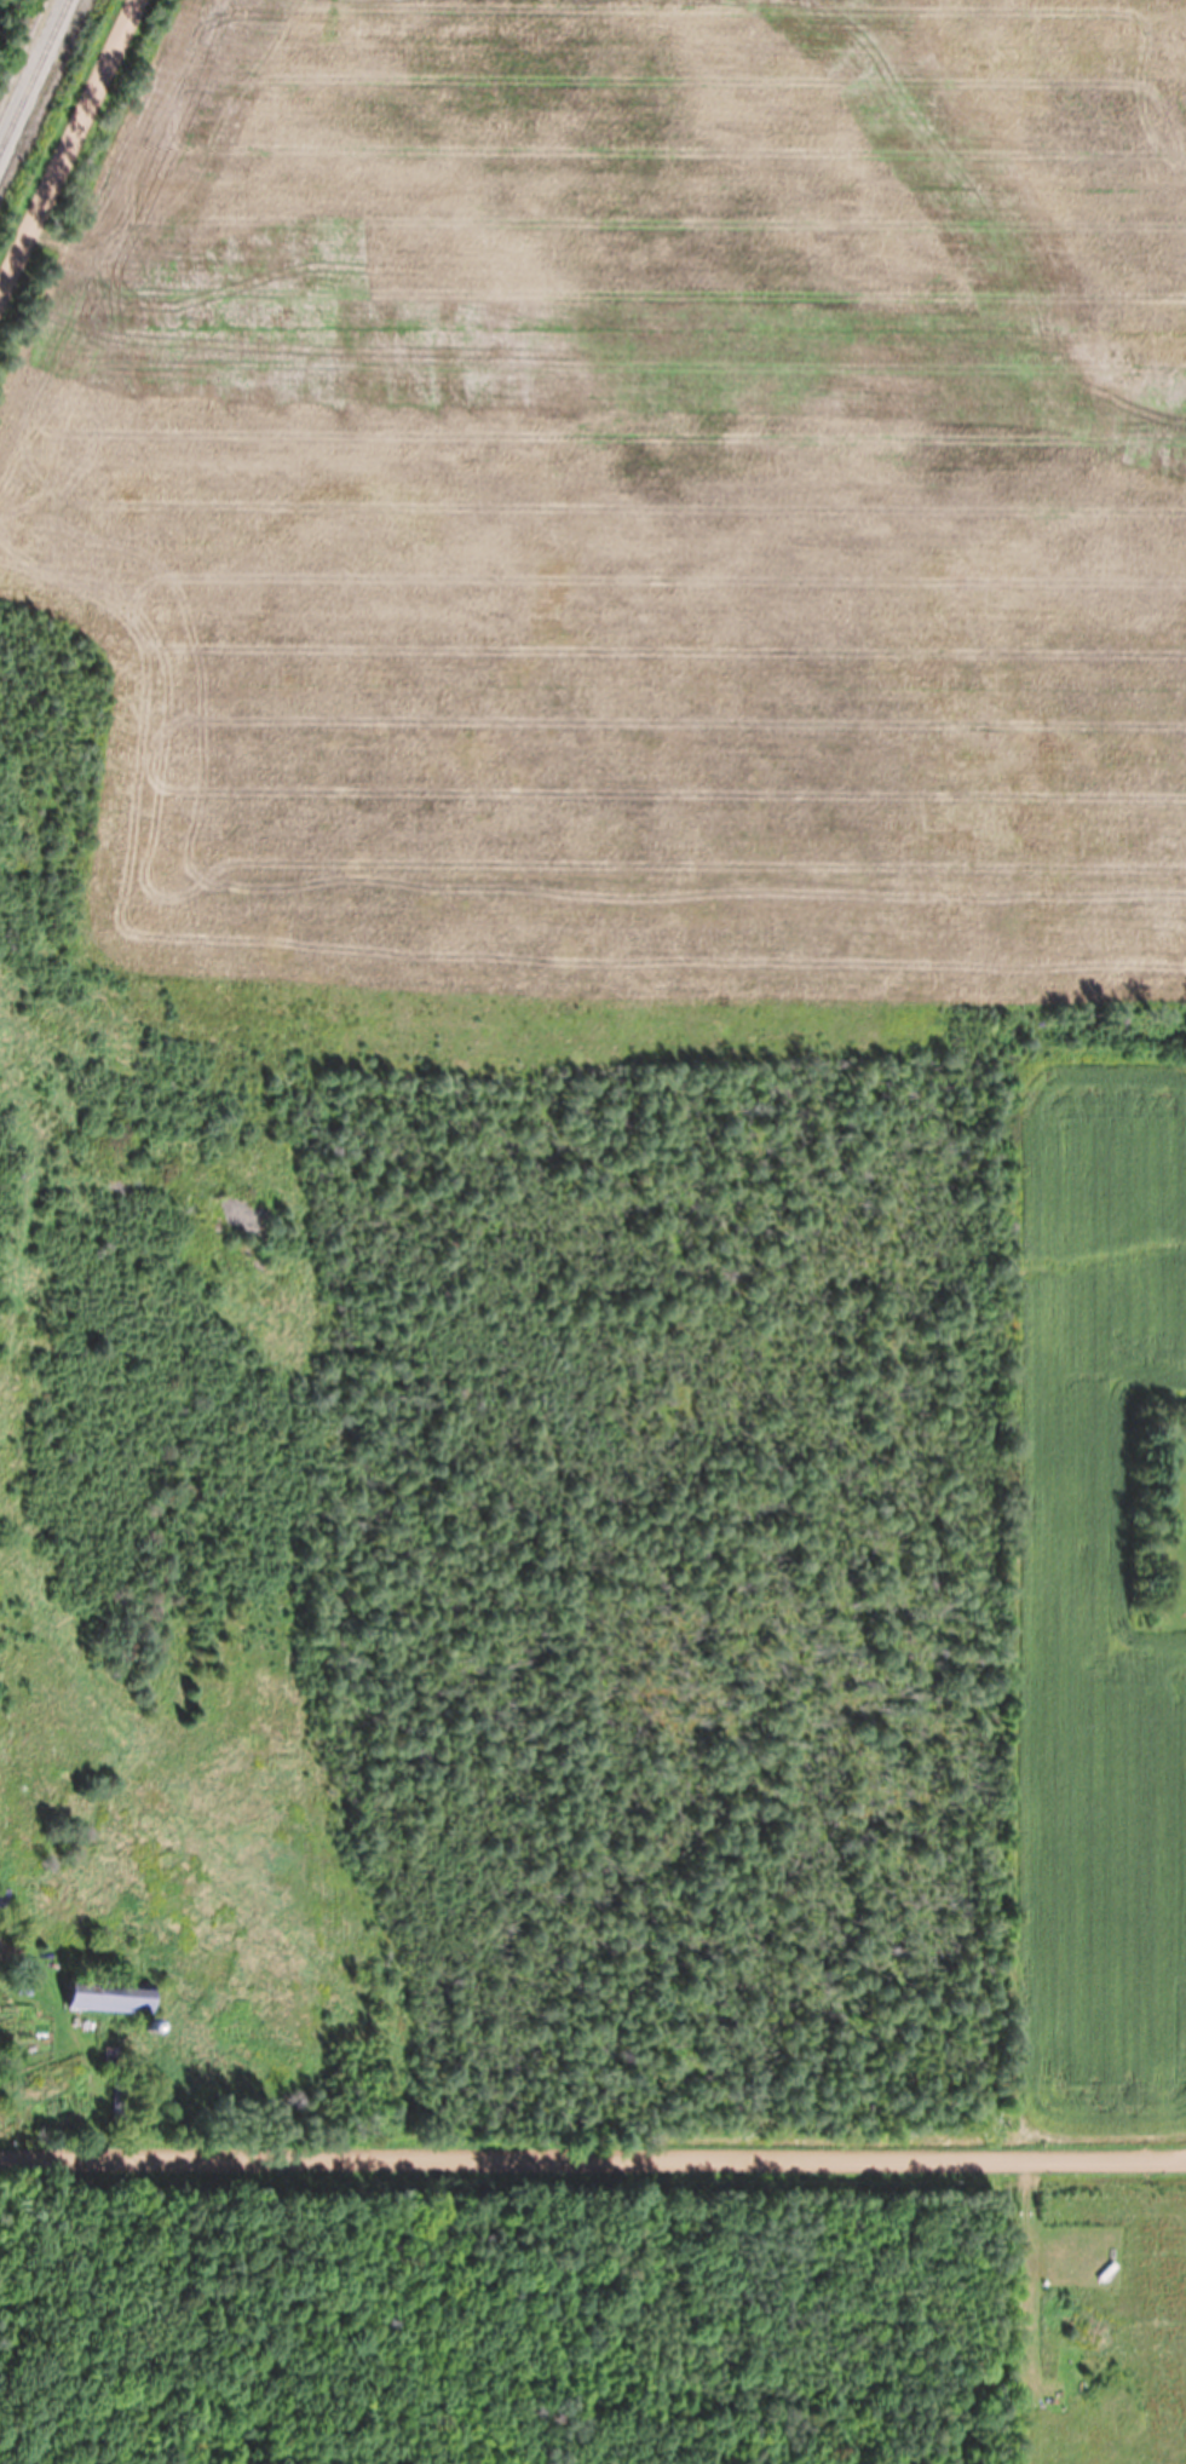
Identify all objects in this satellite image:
railway: (34, 74)
road: (69, 150)
building: (4, 1898)
building: (111, 1997)
building: (109, 2057)
building: (123, 2101)
road: (593, 2159)

